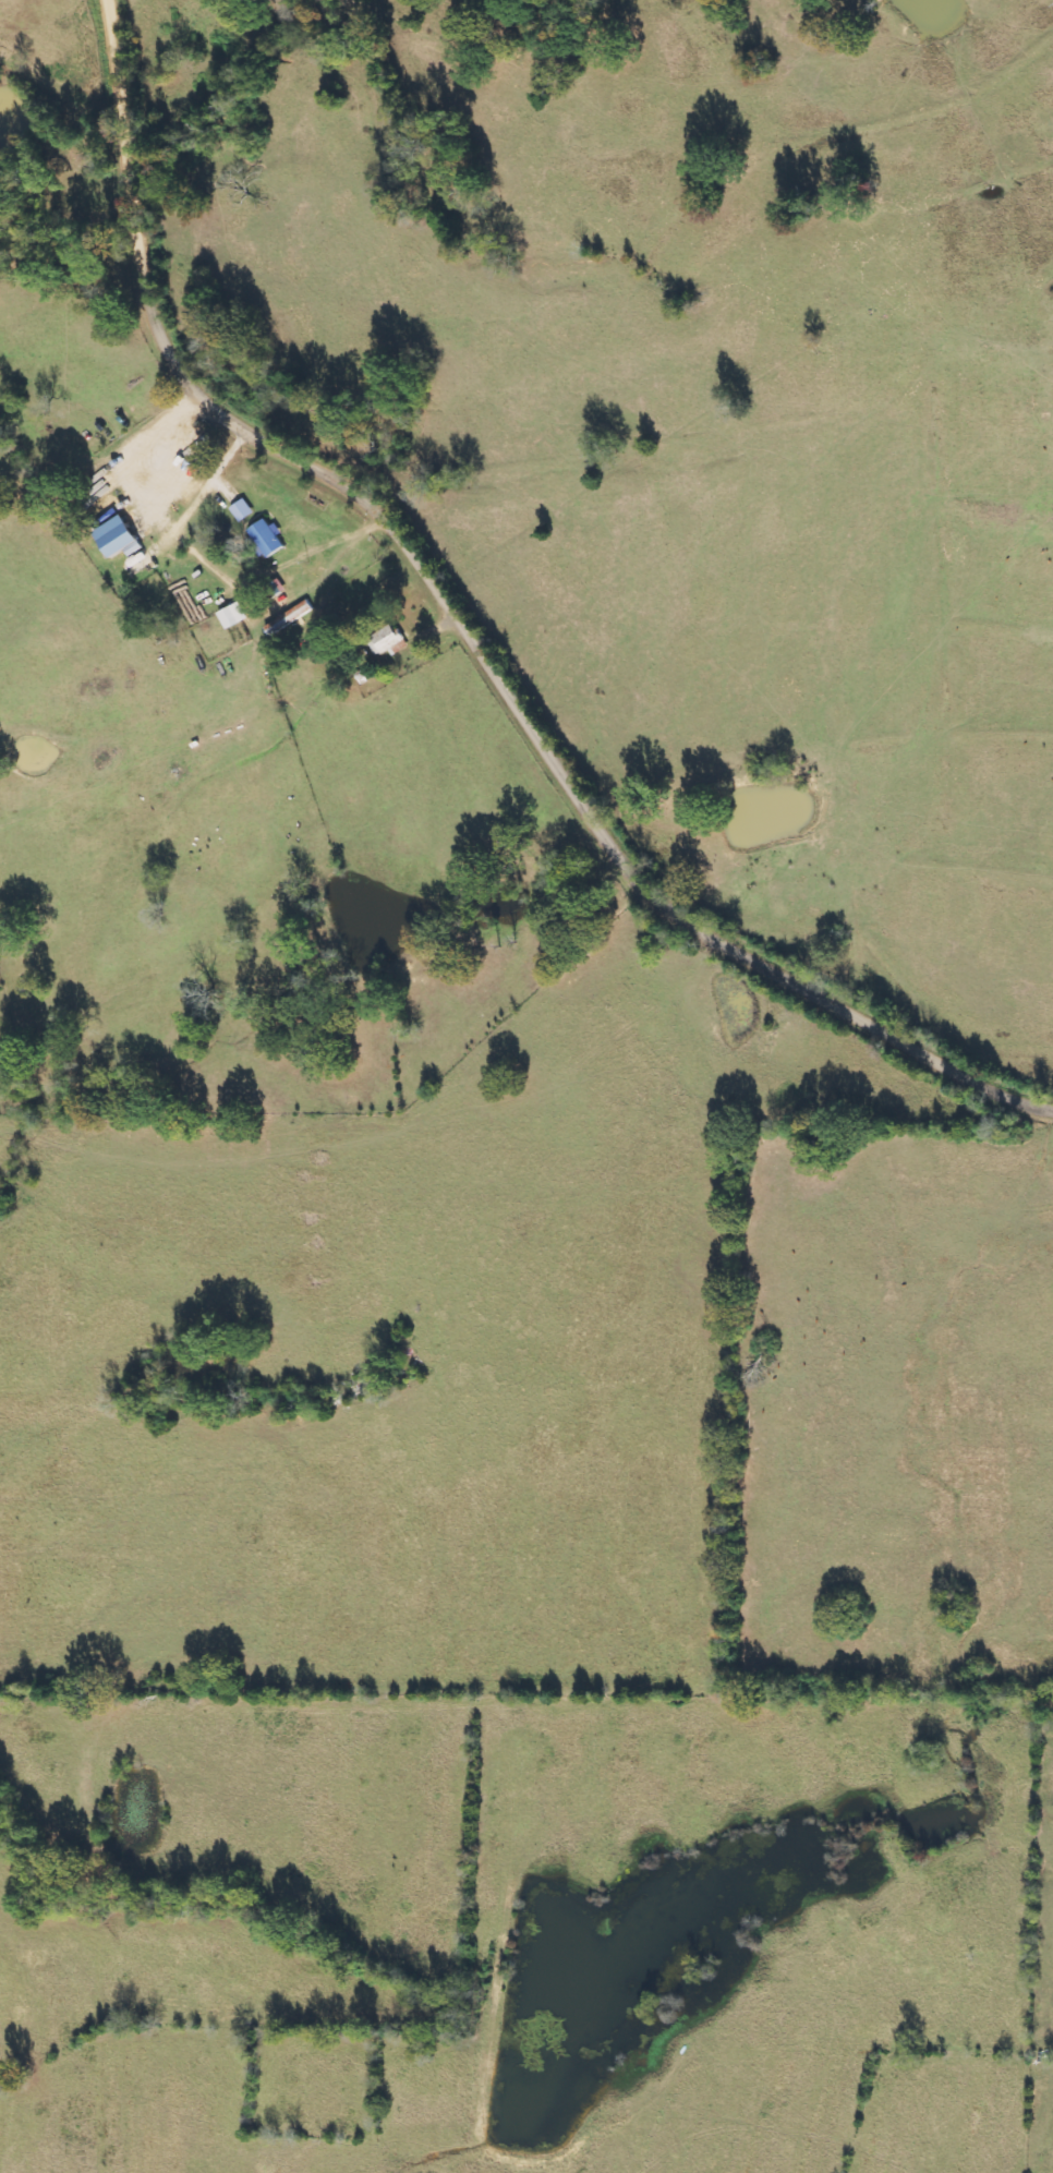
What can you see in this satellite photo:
building: (241, 510)
building: (116, 539)
building: (265, 540)
building: (231, 616)
road: (470, 631)
building: (386, 642)

